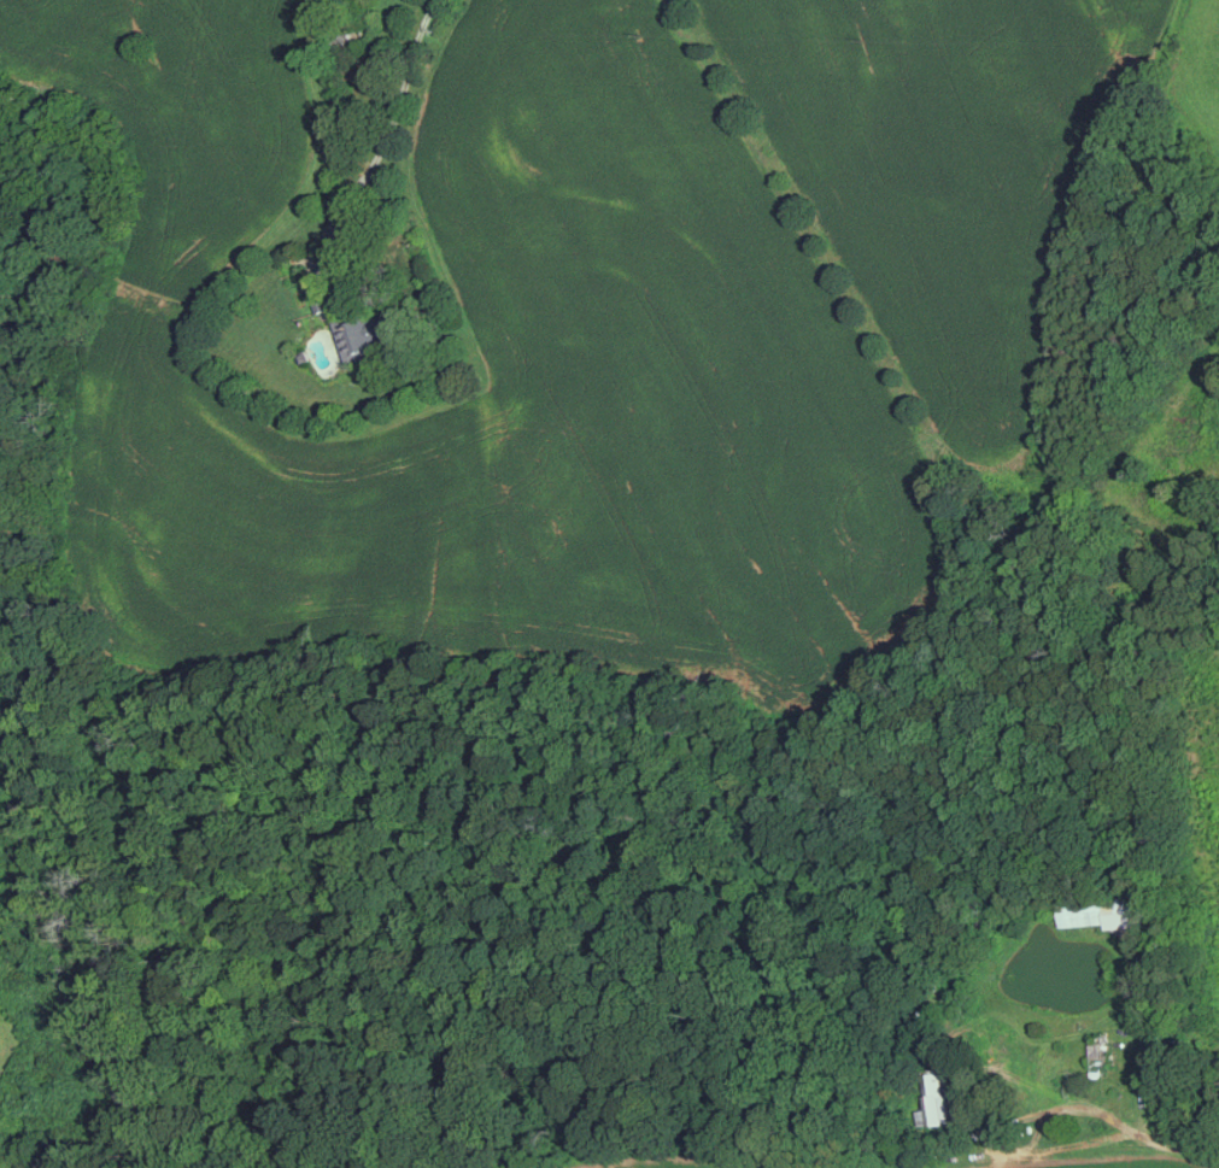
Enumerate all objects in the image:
road: (386, 148)
building: (322, 293)
building: (364, 333)
building: (1103, 910)
building: (1101, 1053)
road: (1143, 1073)
building: (934, 1099)
road: (996, 1131)
road: (1174, 1140)

